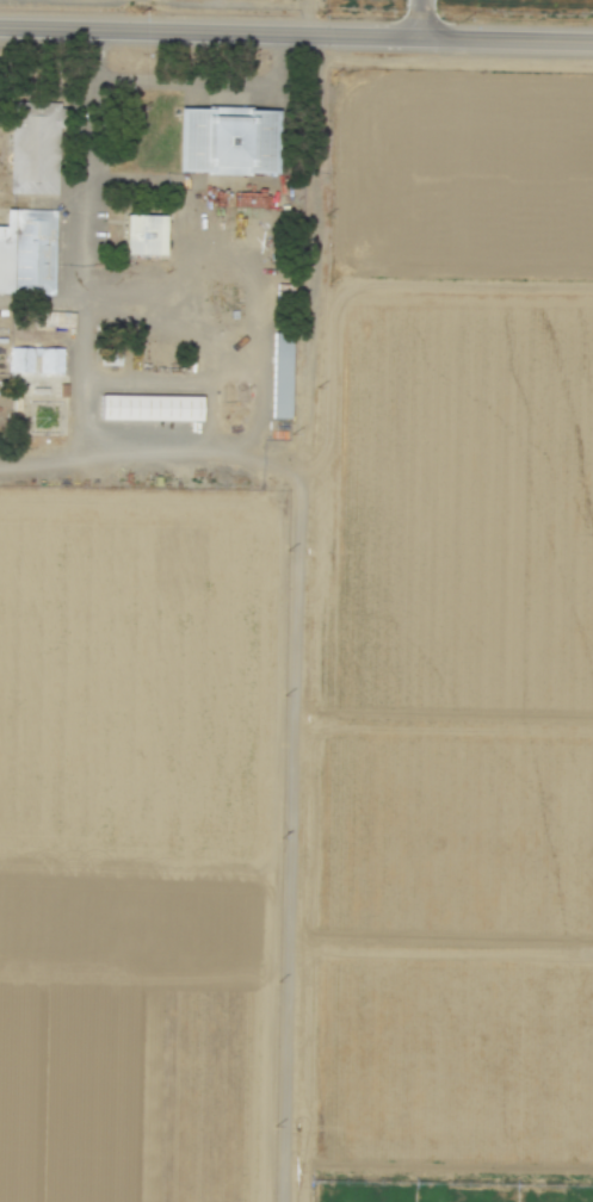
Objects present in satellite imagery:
road: (304, 16)
road: (416, 17)
road: (296, 32)
road: (204, 82)
building: (227, 138)
building: (36, 150)
building: (143, 233)
building: (32, 253)
road: (311, 253)
road: (41, 299)
road: (142, 299)
building: (57, 318)
building: (38, 360)
building: (279, 376)
road: (81, 380)
building: (154, 409)
road: (118, 457)
road: (264, 463)
road: (289, 836)

